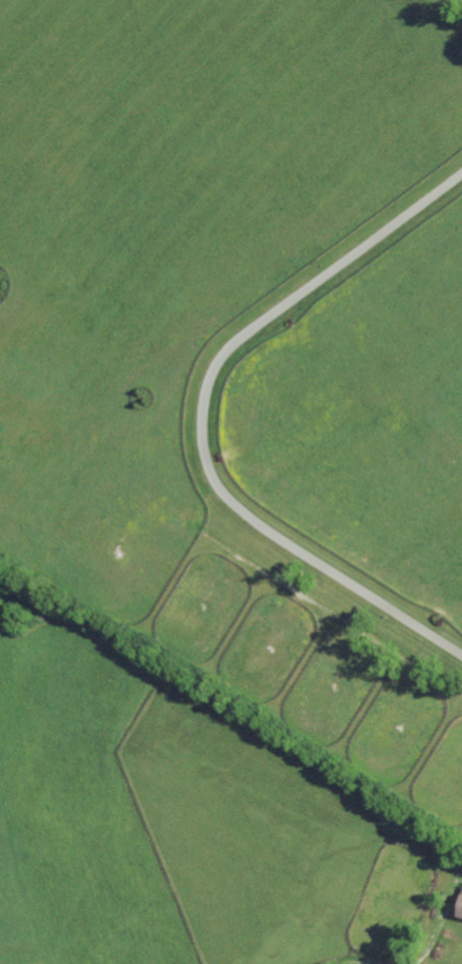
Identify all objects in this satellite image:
road: (460, 1)
road: (207, 418)
building: (14, 447)
building: (450, 685)
building: (389, 688)
building: (461, 913)

